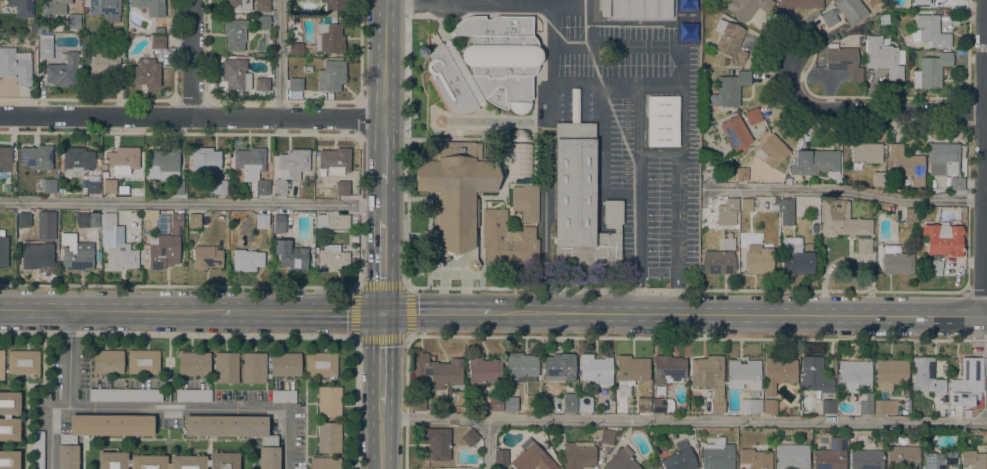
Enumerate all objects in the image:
building: (825, 1)
road: (401, 3)
building: (800, 3)
building: (920, 3)
building: (240, 4)
building: (262, 5)
road: (480, 5)
building: (58, 6)
building: (21, 7)
building: (150, 7)
building: (333, 7)
building: (748, 7)
building: (604, 8)
building: (641, 8)
building: (105, 9)
building: (844, 12)
building: (74, 21)
building: (262, 22)
building: (42, 29)
building: (157, 29)
building: (496, 29)
building: (929, 31)
building: (233, 33)
building: (328, 36)
building: (158, 41)
building: (729, 42)
building: (45, 44)
building: (295, 49)
road: (358, 50)
building: (258, 54)
building: (882, 57)
road: (190, 58)
road: (278, 58)
road: (386, 58)
building: (843, 61)
building: (102, 63)
building: (15, 65)
building: (931, 70)
building: (63, 71)
building: (144, 72)
building: (504, 72)
building: (464, 73)
building: (235, 74)
building: (331, 75)
building: (448, 83)
road: (593, 83)
building: (295, 84)
building: (262, 87)
building: (728, 89)
road: (863, 113)
road: (192, 116)
building: (753, 116)
road: (681, 120)
building: (663, 121)
building: (735, 132)
road: (385, 150)
building: (772, 150)
building: (865, 153)
building: (37, 157)
building: (942, 157)
building: (205, 158)
building: (6, 159)
building: (123, 159)
building: (334, 160)
building: (77, 161)
building: (815, 162)
building: (293, 163)
building: (162, 164)
building: (905, 164)
building: (251, 167)
building: (741, 174)
building: (878, 178)
road: (985, 179)
building: (787, 180)
building: (836, 180)
building: (92, 184)
building: (956, 185)
building: (49, 186)
building: (109, 186)
building: (177, 187)
building: (217, 187)
building: (279, 187)
building: (342, 188)
building: (122, 189)
road: (844, 190)
building: (455, 194)
building: (578, 195)
building: (525, 198)
road: (544, 198)
building: (775, 200)
road: (385, 201)
road: (192, 203)
building: (746, 204)
building: (786, 205)
building: (773, 207)
building: (732, 212)
building: (612, 213)
building: (910, 215)
building: (23, 219)
building: (86, 219)
road: (636, 219)
building: (193, 220)
building: (331, 220)
building: (841, 220)
building: (261, 221)
building: (782, 222)
building: (279, 223)
building: (617, 230)
road: (676, 234)
building: (162, 239)
building: (943, 239)
building: (505, 240)
building: (728, 243)
building: (116, 245)
building: (864, 245)
building: (3, 250)
building: (36, 255)
building: (290, 255)
building: (77, 256)
building: (206, 257)
building: (247, 257)
building: (331, 258)
building: (796, 258)
building: (758, 259)
building: (896, 260)
building: (354, 261)
building: (717, 262)
road: (383, 266)
building: (932, 267)
road: (357, 286)
road: (633, 300)
road: (110, 311)
road: (301, 313)
traffic signals: (382, 313)
road: (434, 313)
road: (736, 316)
road: (381, 359)
building: (108, 361)
building: (143, 361)
building: (23, 362)
building: (194, 363)
building: (284, 364)
building: (320, 364)
building: (1, 365)
building: (520, 367)
building: (559, 367)
building: (226, 368)
building: (253, 368)
building: (594, 368)
building: (668, 369)
building: (438, 370)
building: (483, 371)
building: (630, 372)
building: (777, 373)
building: (743, 374)
building: (890, 374)
building: (814, 375)
building: (853, 375)
building: (925, 376)
building: (709, 379)
building: (966, 381)
building: (124, 394)
building: (193, 395)
building: (283, 396)
building: (458, 398)
building: (329, 401)
road: (403, 402)
building: (418, 402)
building: (569, 402)
road: (356, 403)
building: (495, 403)
building: (751, 403)
building: (510, 404)
building: (584, 404)
building: (661, 404)
building: (865, 404)
building: (643, 405)
building: (769, 406)
building: (827, 406)
road: (158, 407)
building: (884, 407)
building: (459, 409)
building: (9, 416)
road: (684, 418)
road: (50, 428)
building: (98, 433)
building: (237, 433)
building: (602, 435)
building: (927, 436)
building: (328, 437)
road: (380, 437)
building: (470, 437)
road: (486, 443)
building: (438, 444)
building: (37, 449)
building: (578, 454)
building: (718, 455)
building: (831, 455)
building: (792, 456)
building: (501, 457)
building: (531, 457)
building: (903, 457)
building: (679, 458)
building: (756, 458)
building: (9, 459)
building: (866, 459)
building: (940, 459)
building: (974, 459)
building: (621, 460)
building: (132, 461)
building: (325, 462)
building: (299, 467)
building: (509, 468)

